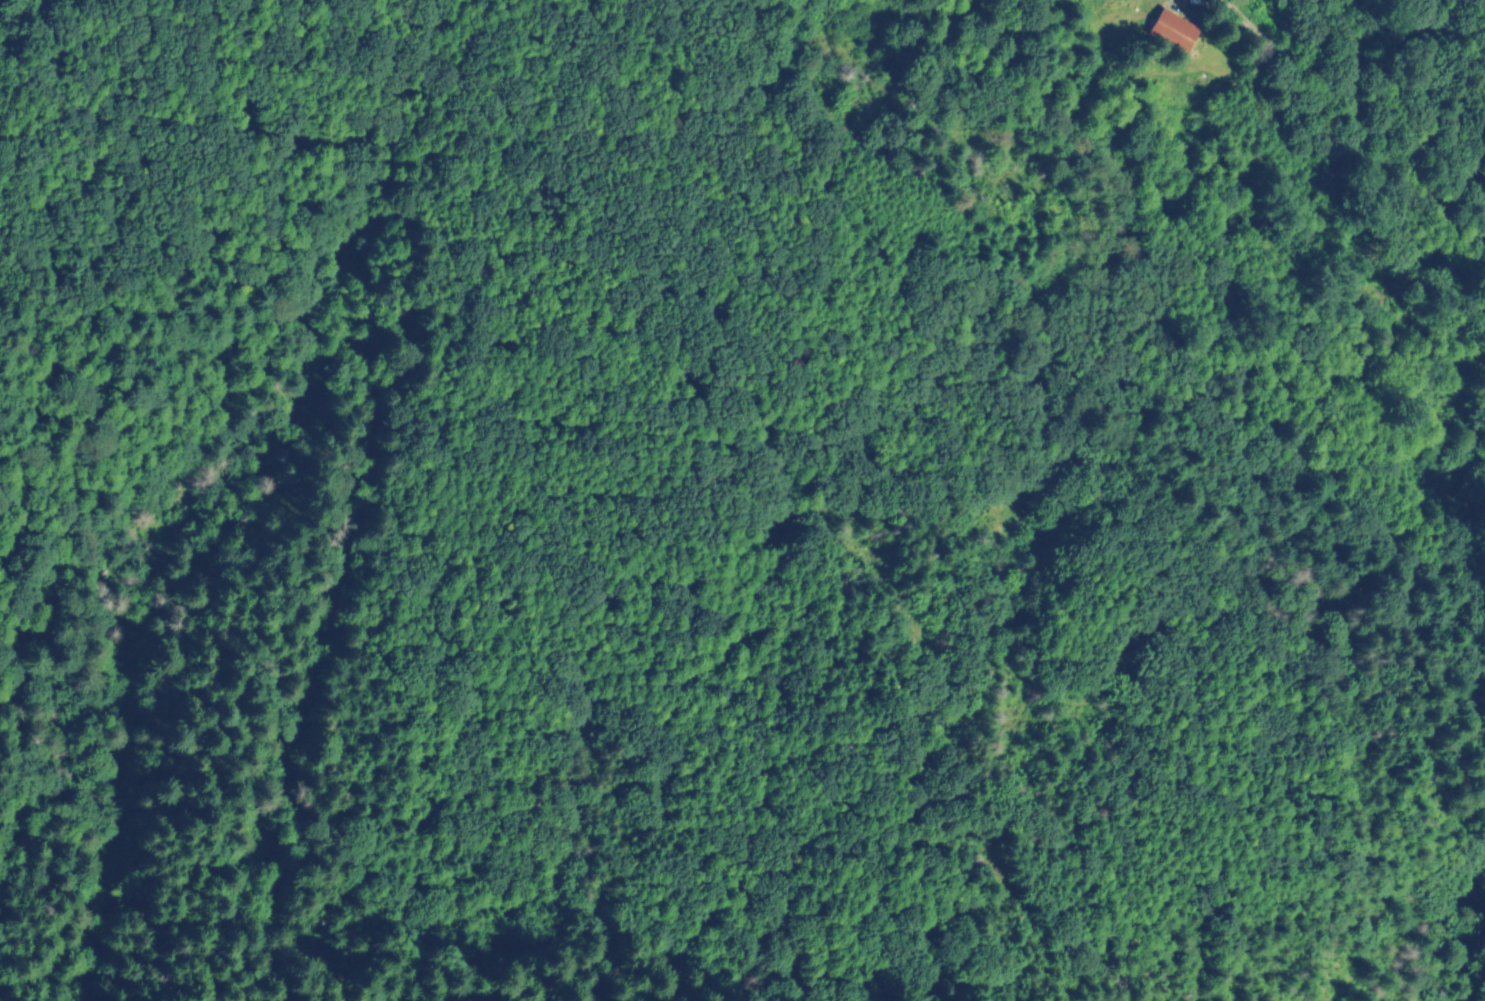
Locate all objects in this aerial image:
building: (1194, 1)
building: (1173, 28)

